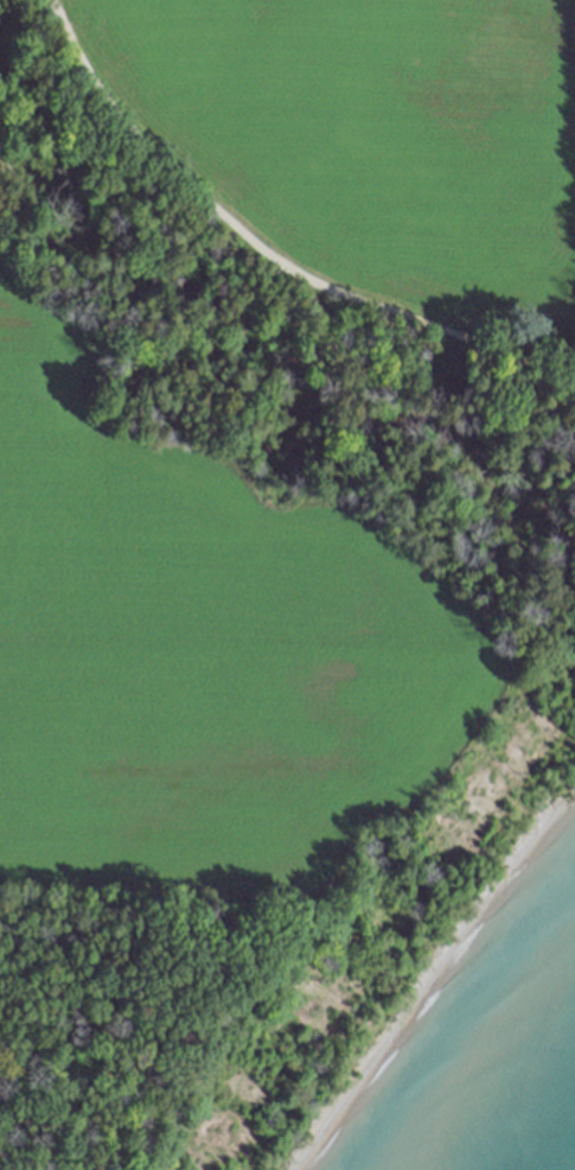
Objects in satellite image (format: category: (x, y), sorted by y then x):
road: (271, 246)
crop: (198, 650)

